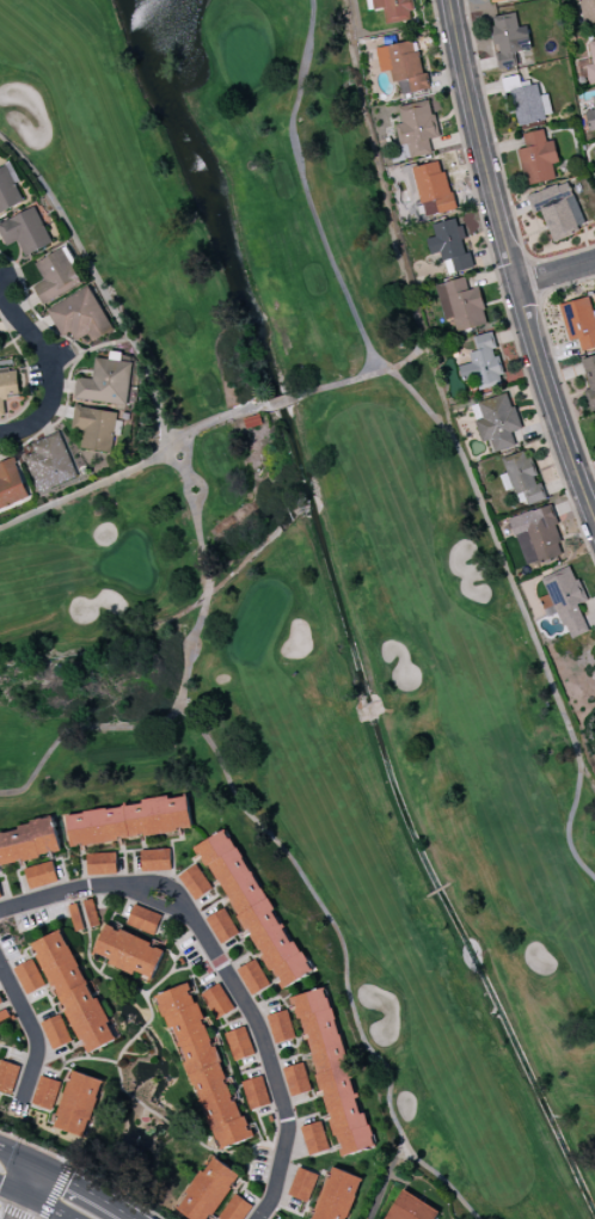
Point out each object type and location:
building: (393, 10)
building: (588, 10)
building: (509, 38)
building: (593, 53)
building: (403, 65)
building: (594, 97)
building: (529, 103)
building: (590, 120)
building: (416, 127)
building: (538, 158)
building: (433, 188)
building: (7, 190)
building: (558, 209)
building: (25, 231)
building: (449, 245)
road: (513, 261)
road: (557, 274)
building: (55, 276)
building: (461, 304)
building: (80, 316)
building: (579, 321)
building: (483, 363)
road: (53, 369)
building: (589, 379)
building: (106, 381)
building: (7, 385)
building: (496, 421)
building: (94, 427)
building: (50, 461)
building: (521, 478)
building: (11, 483)
building: (536, 535)
park: (305, 565)
building: (564, 600)
building: (128, 821)
building: (27, 841)
building: (155, 859)
building: (102, 864)
building: (41, 875)
building: (195, 882)
building: (253, 908)
building: (84, 914)
building: (143, 919)
building: (222, 925)
building: (129, 951)
road: (227, 969)
building: (29, 976)
building: (253, 976)
building: (74, 991)
building: (217, 1000)
building: (2, 1009)
building: (281, 1027)
road: (35, 1029)
building: (56, 1031)
building: (239, 1043)
building: (203, 1064)
building: (333, 1073)
building: (7, 1076)
building: (296, 1079)
building: (45, 1092)
building: (254, 1092)
building: (78, 1103)
building: (314, 1138)
road: (19, 1156)
road: (32, 1180)
traffic signals: (72, 1180)
building: (302, 1184)
road: (13, 1189)
road: (88, 1189)
building: (208, 1190)
building: (337, 1195)
road: (48, 1206)
road: (20, 1207)
building: (235, 1208)
building: (411, 1208)

